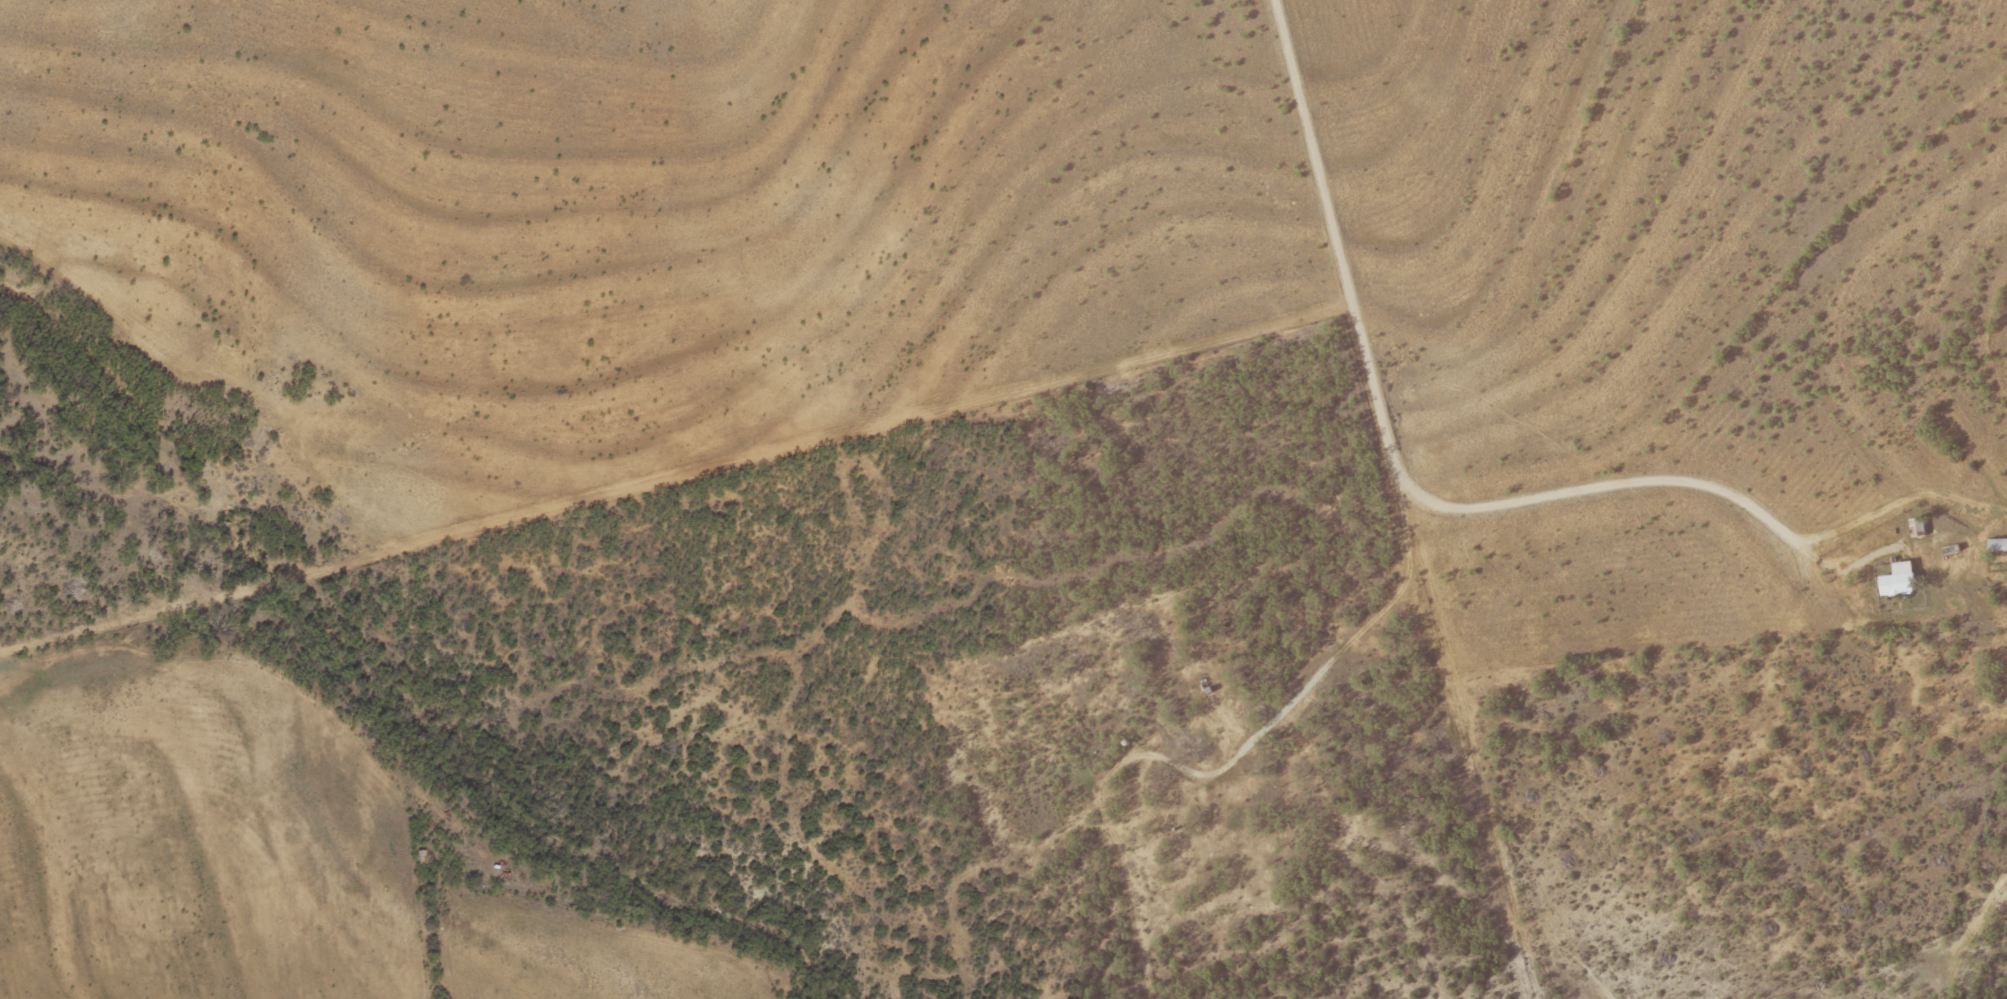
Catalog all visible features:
road: (1413, 492)
building: (1902, 579)

